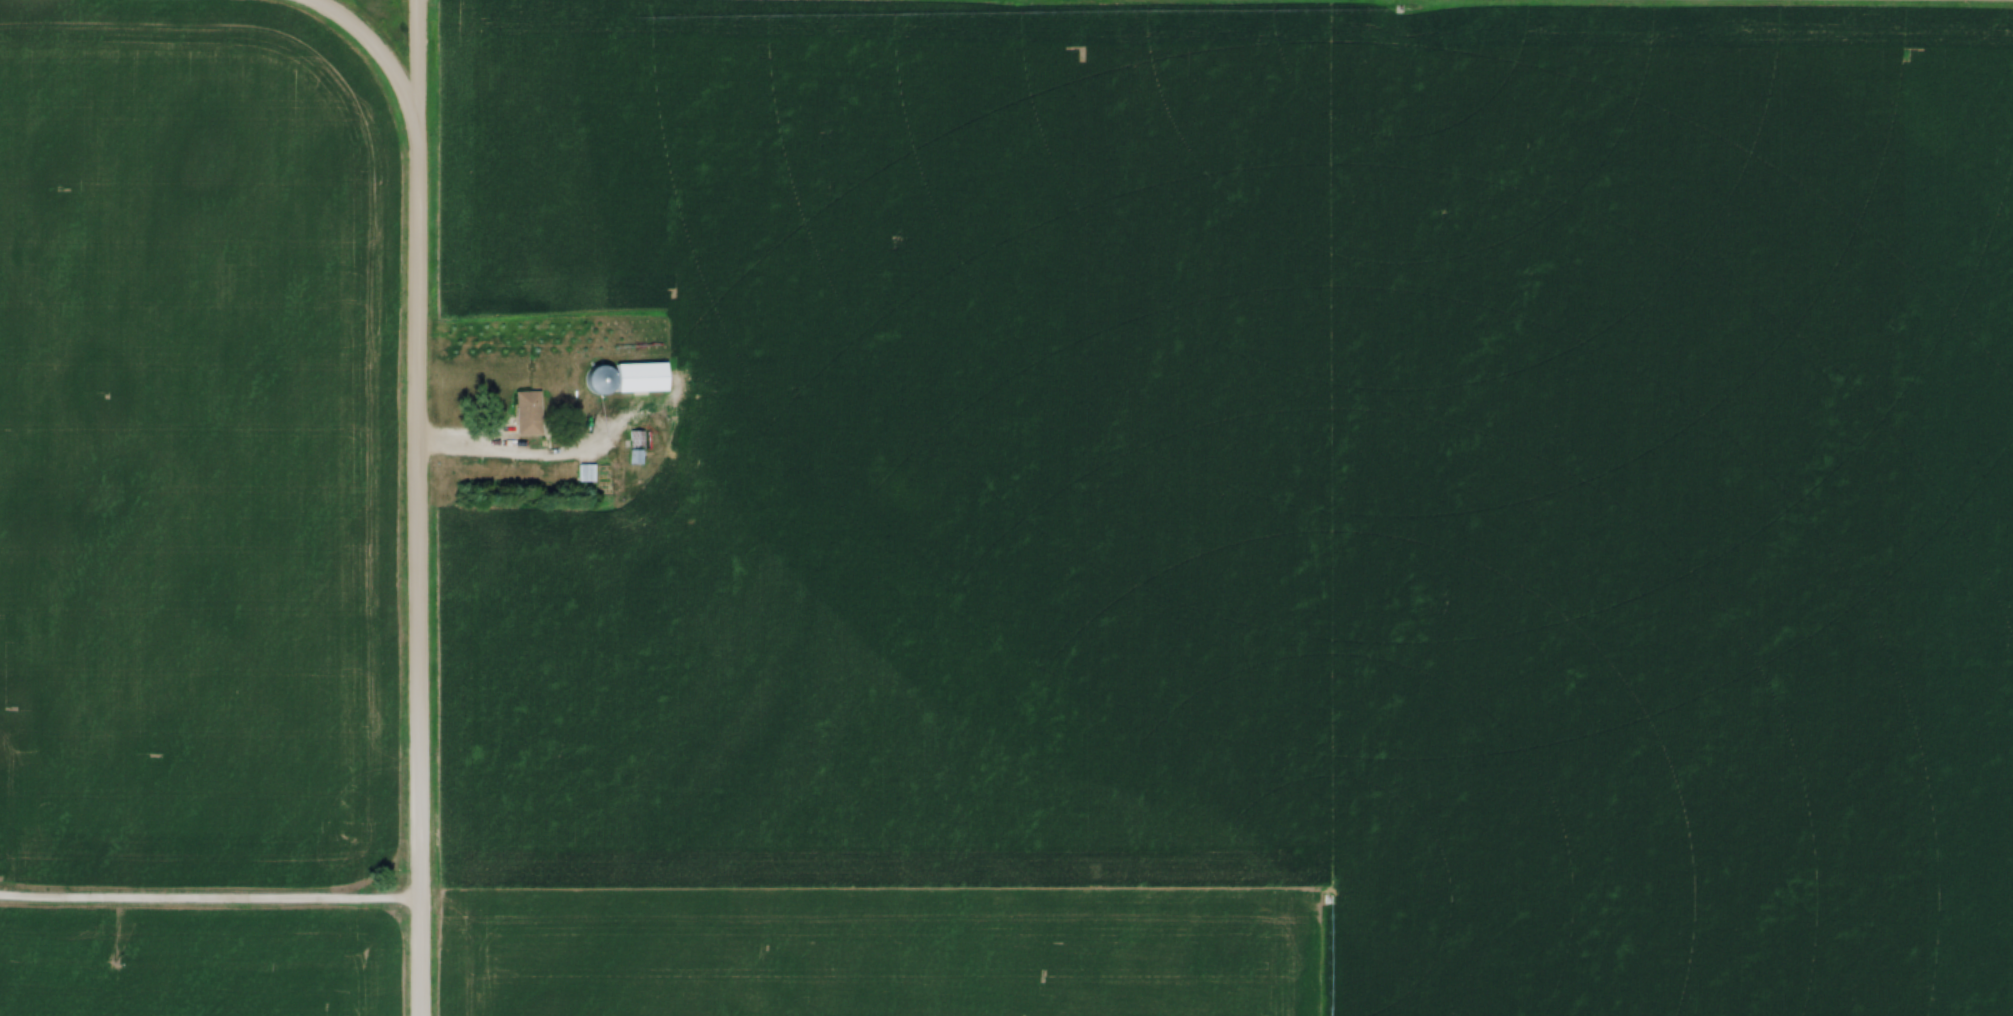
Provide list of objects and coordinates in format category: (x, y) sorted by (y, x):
road: (1796, 2)
road: (374, 50)
road: (415, 59)
building: (634, 379)
building: (529, 425)
building: (638, 447)
road: (531, 461)
building: (589, 474)
road: (416, 567)
road: (209, 904)

